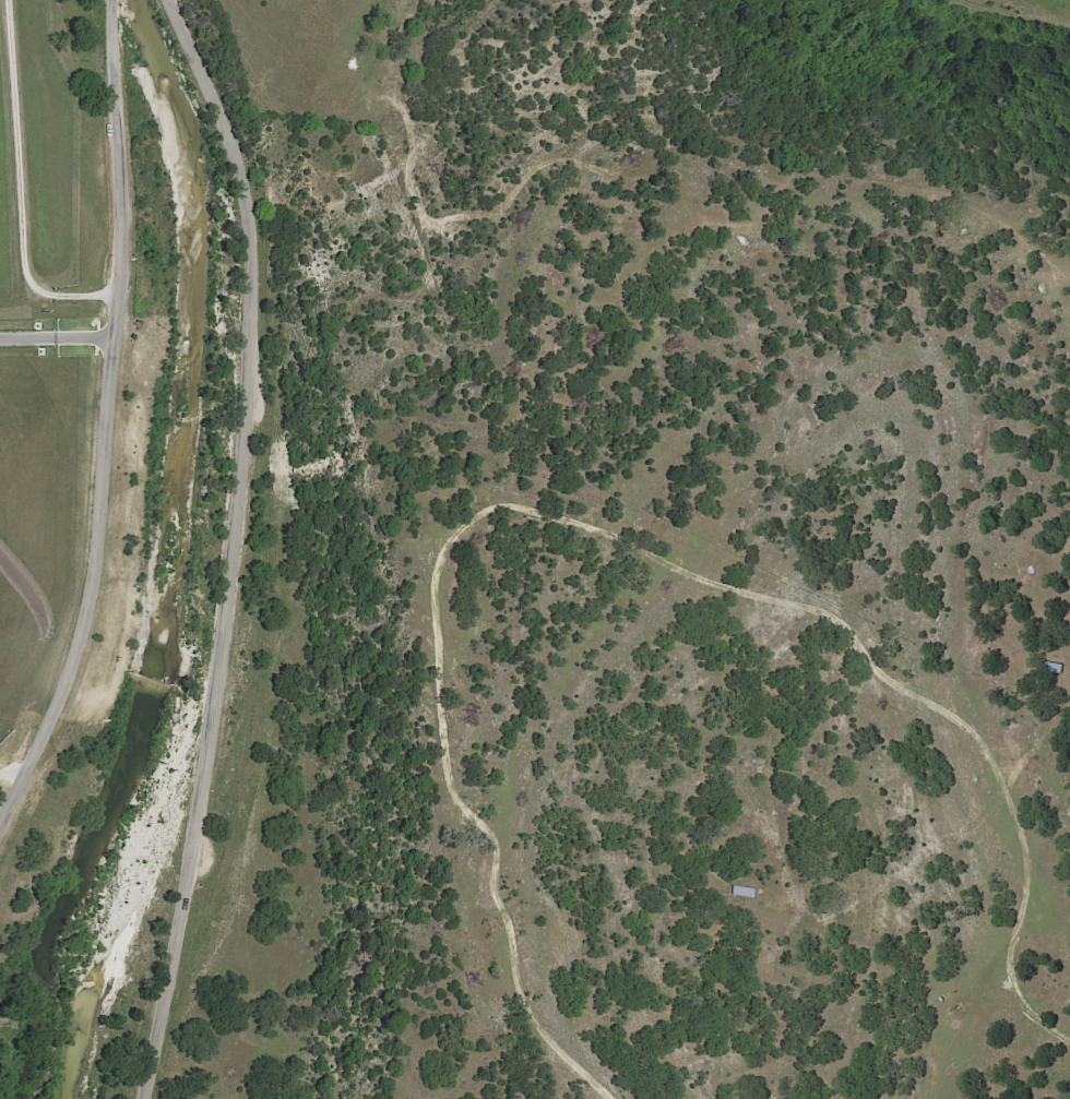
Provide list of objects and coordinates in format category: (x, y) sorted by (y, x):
road: (25, 183)
road: (56, 336)
road: (104, 418)
road: (233, 545)
building: (1054, 669)
road: (5, 796)
building: (740, 891)

